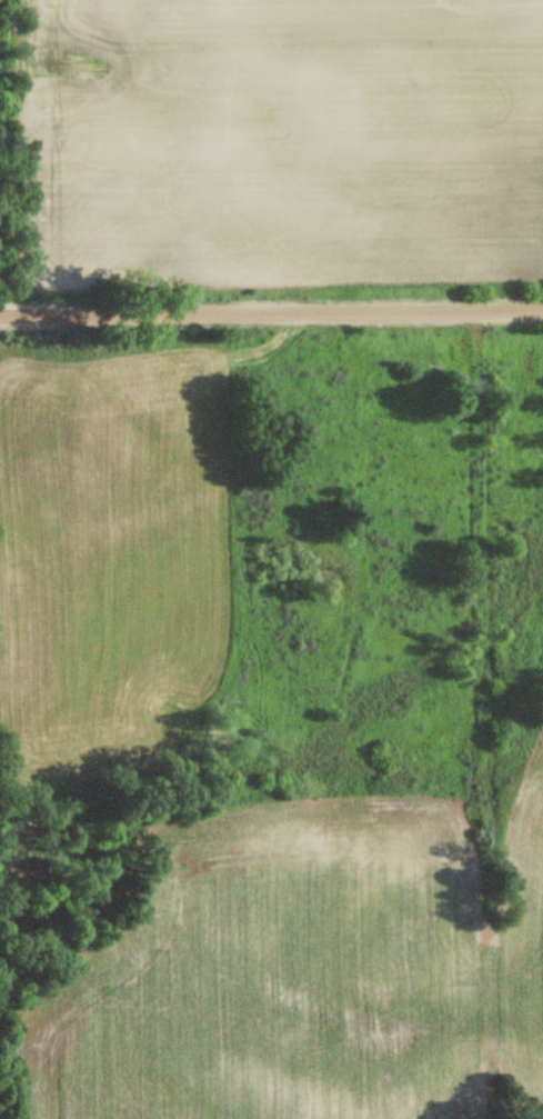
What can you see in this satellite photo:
road: (271, 312)
road: (459, 526)

